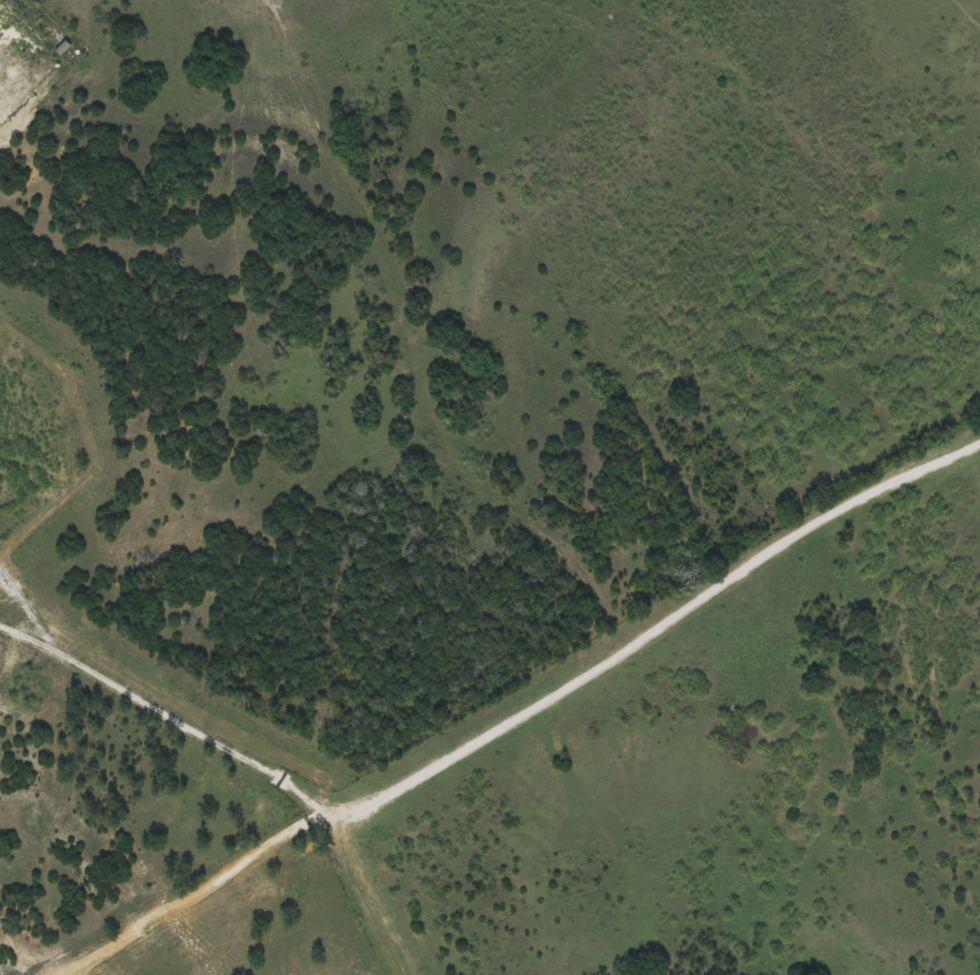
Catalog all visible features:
building: (42, 21)
road: (644, 634)
road: (157, 707)
road: (196, 888)

